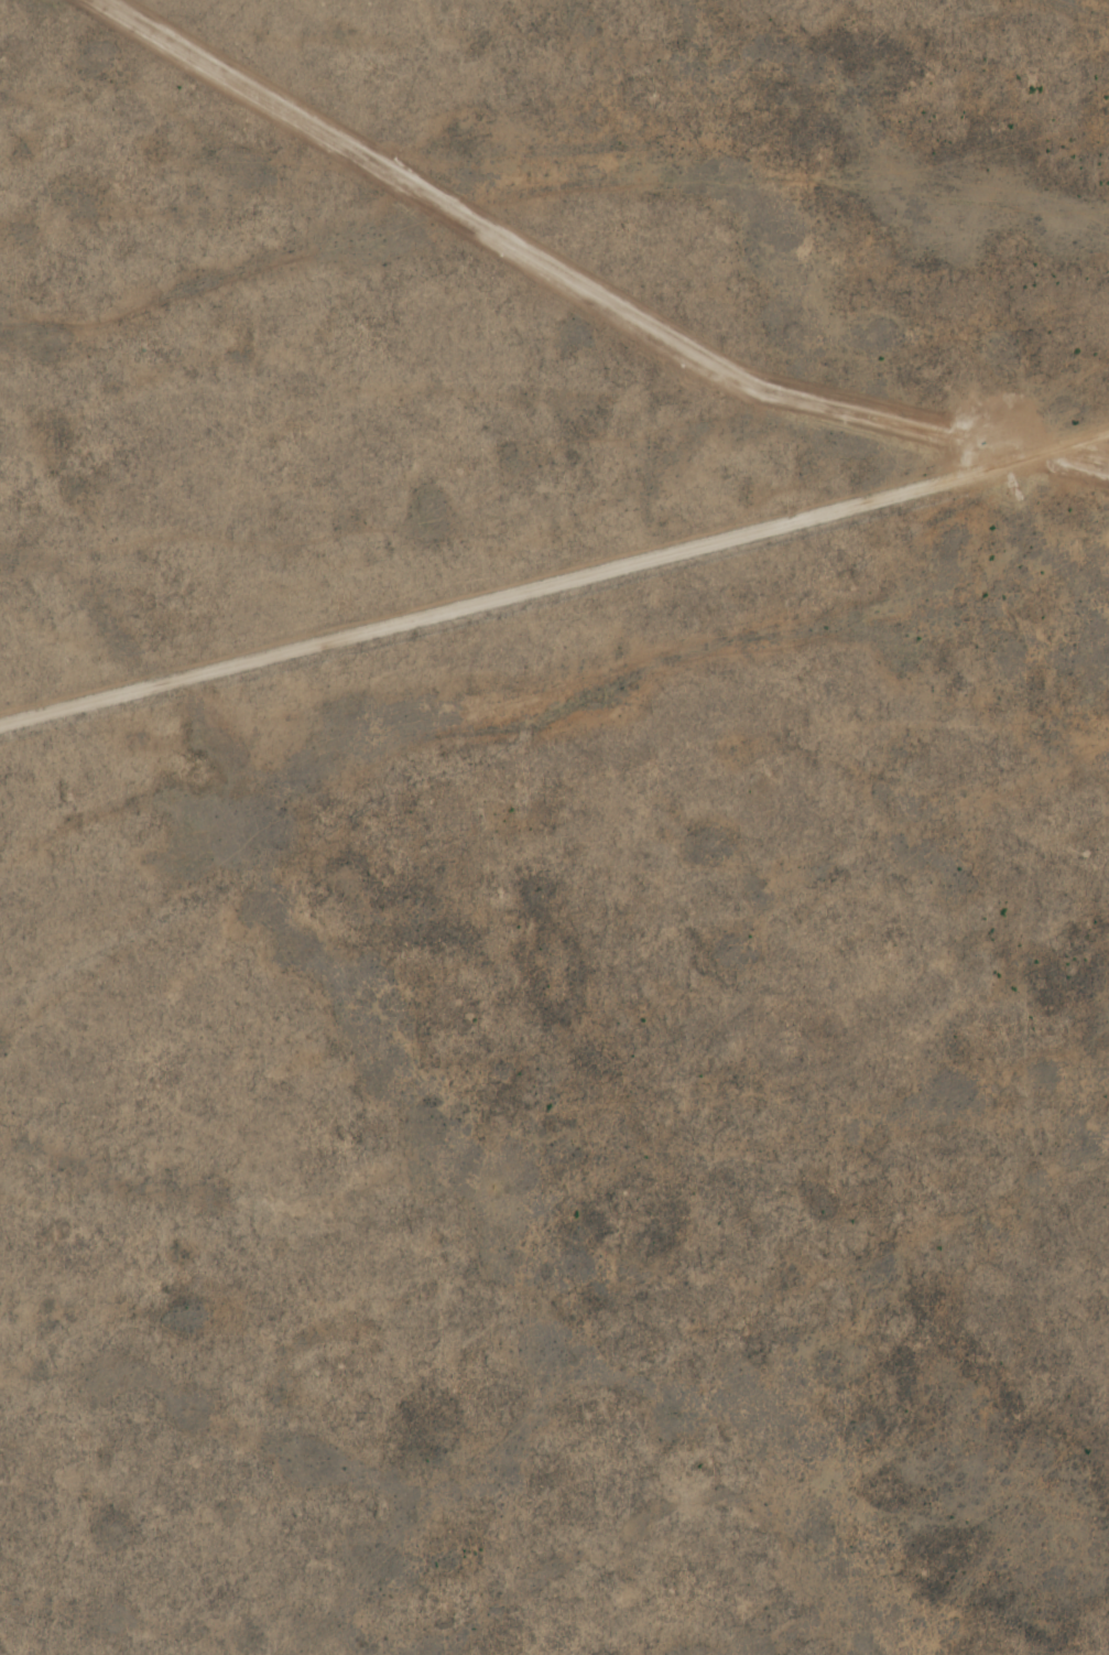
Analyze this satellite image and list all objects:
road: (555, 584)

